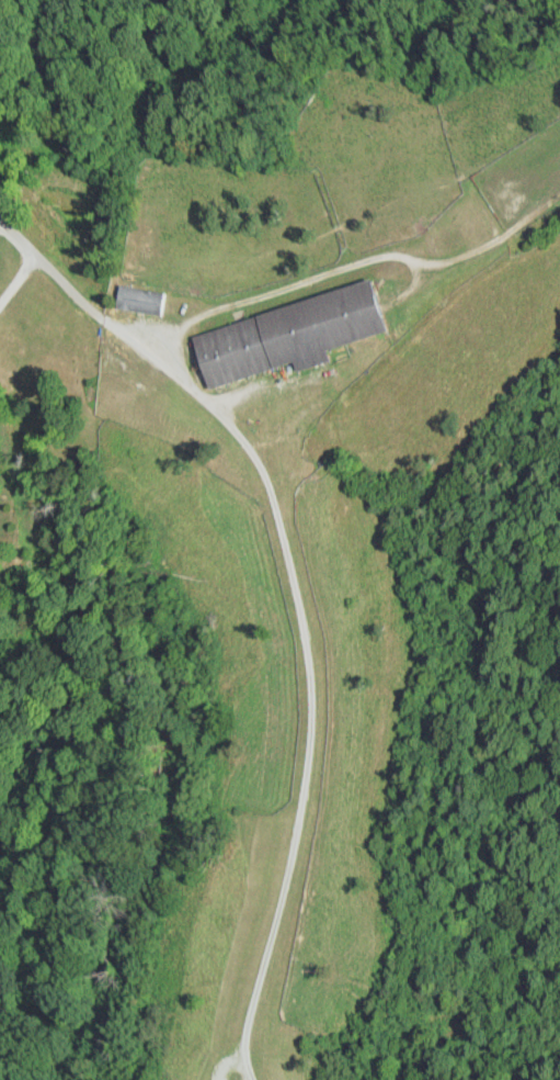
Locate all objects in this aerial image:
road: (31, 259)
building: (288, 334)

